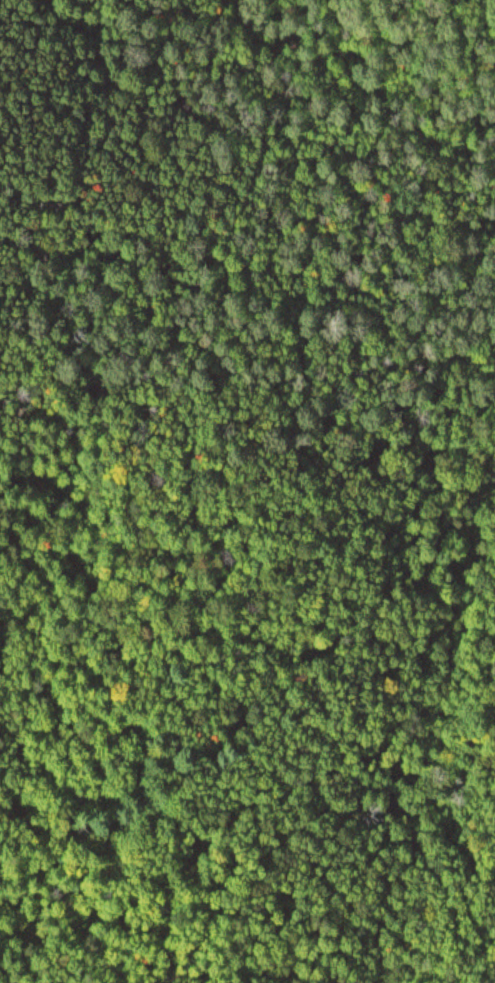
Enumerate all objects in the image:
road: (339, 73)
road: (426, 85)

